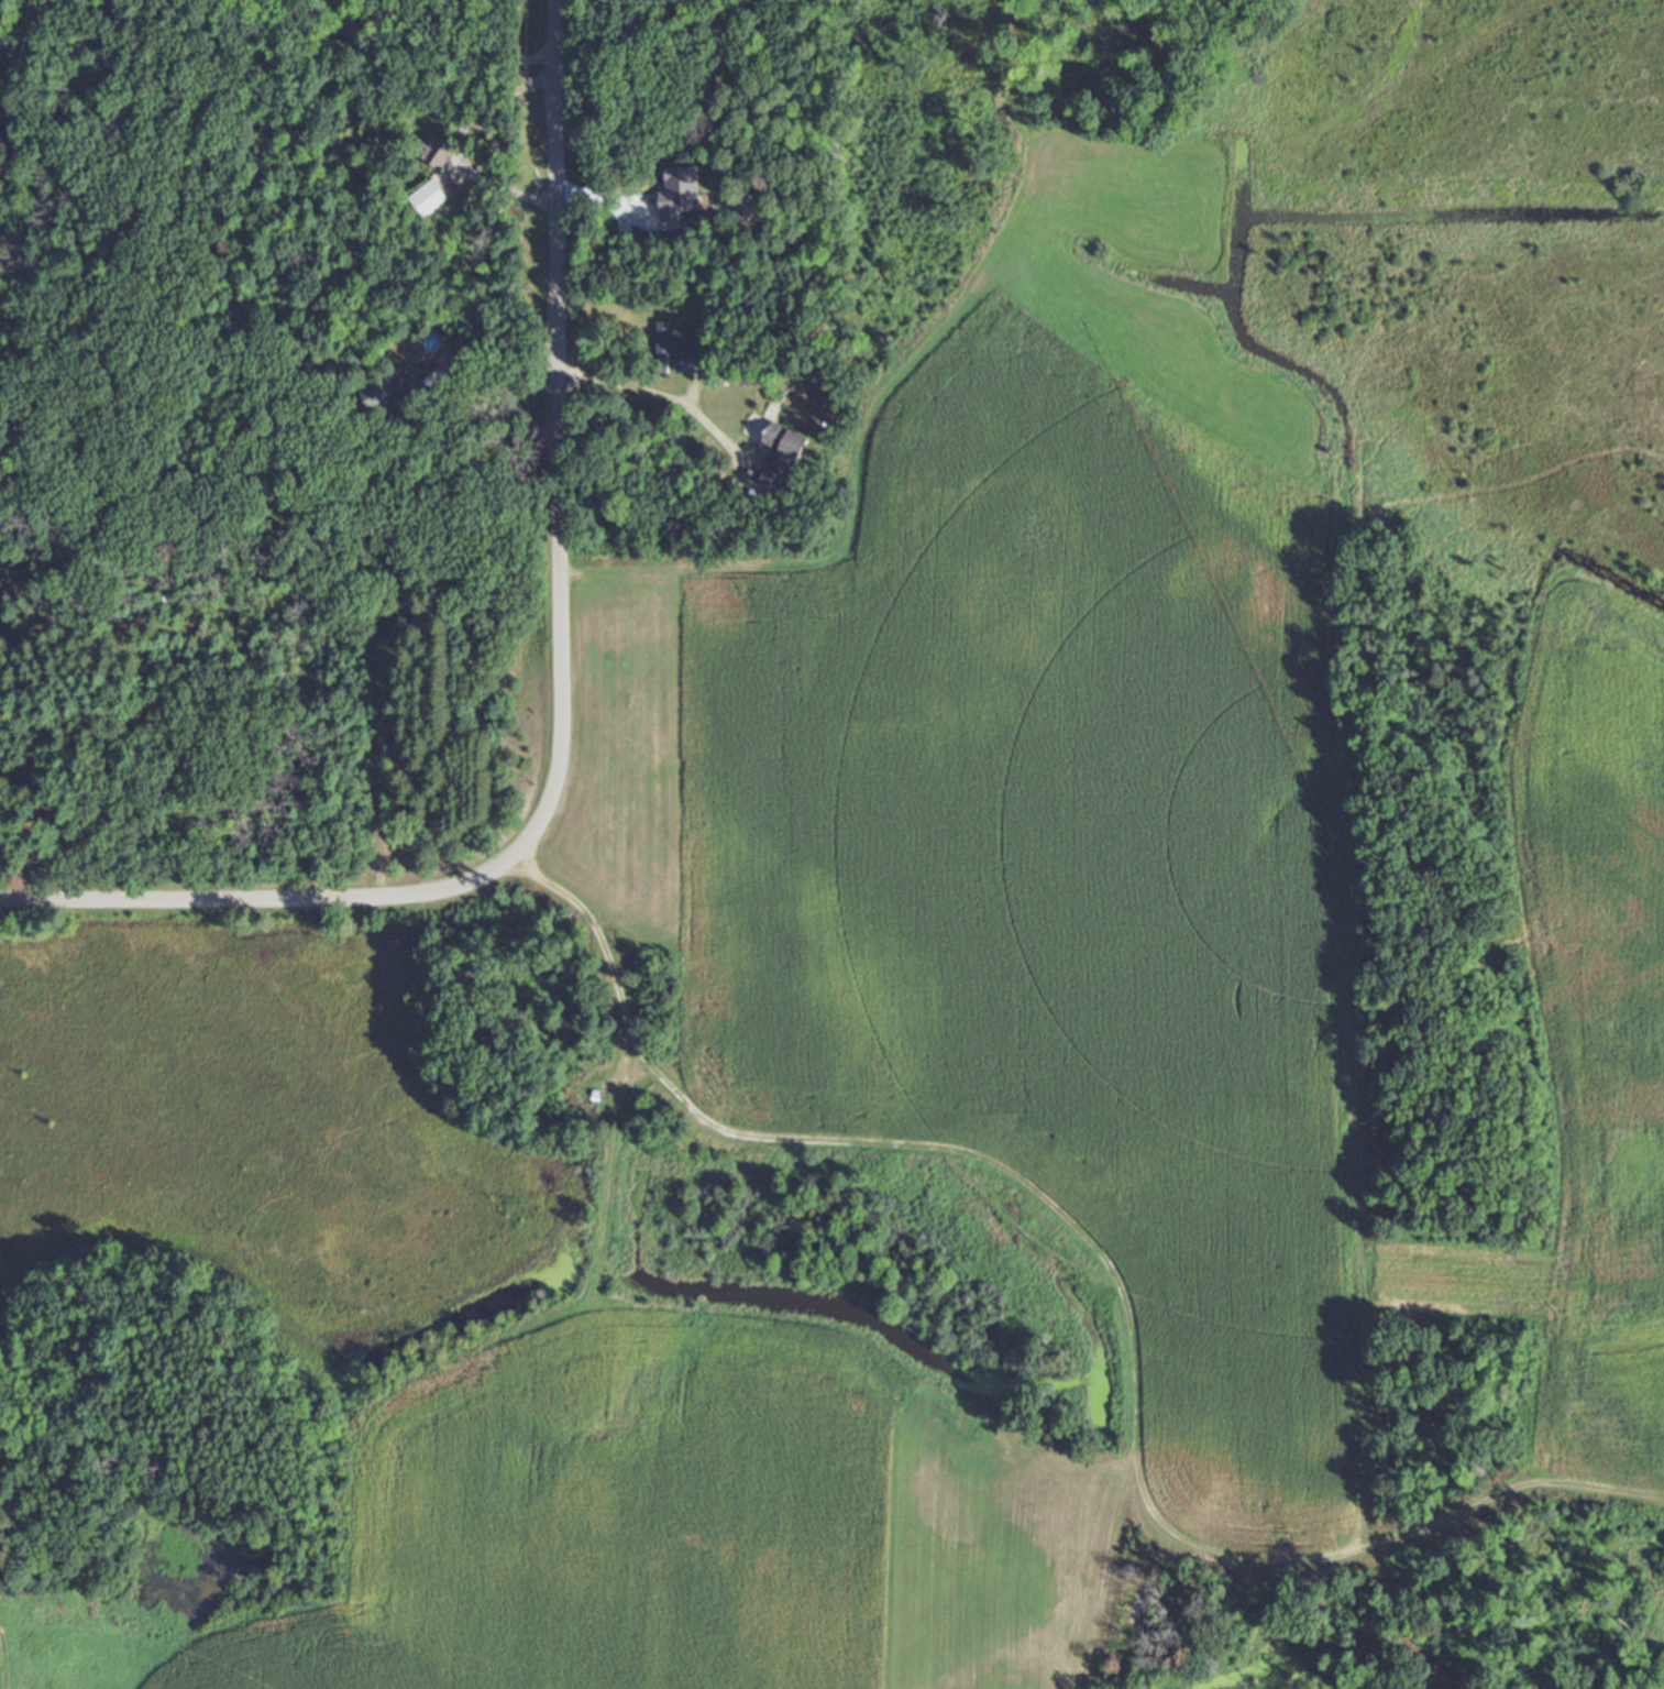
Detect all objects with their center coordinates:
building: (436, 153)
building: (425, 198)
building: (674, 350)
building: (779, 457)
road: (564, 693)

